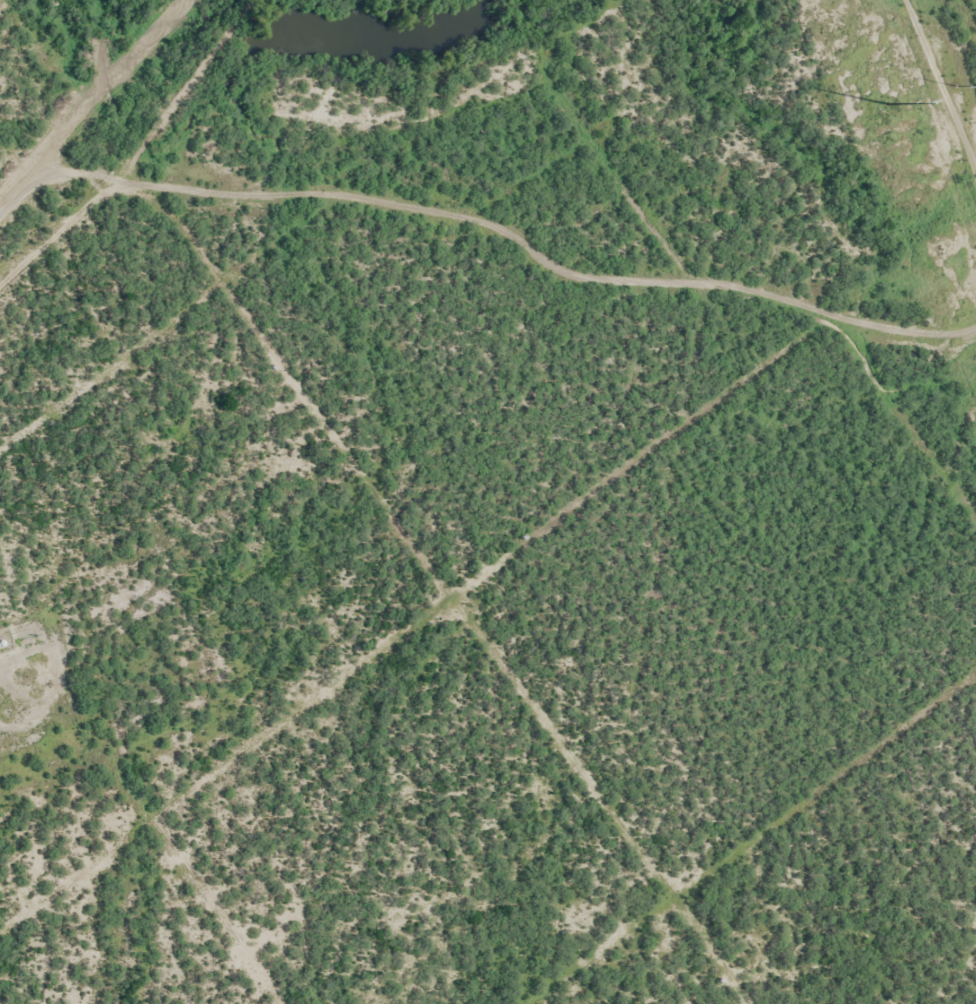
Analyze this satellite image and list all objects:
road: (948, 78)
power tower: (952, 86)
power tower: (888, 100)
road: (488, 241)

